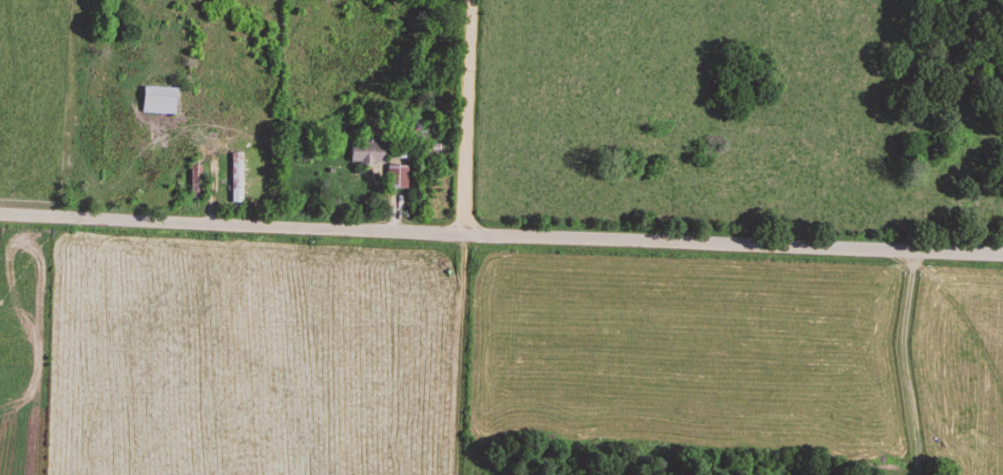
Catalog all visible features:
building: (157, 101)
road: (470, 115)
building: (366, 154)
building: (238, 178)
building: (395, 178)
road: (501, 233)
road: (462, 352)
road: (903, 364)

